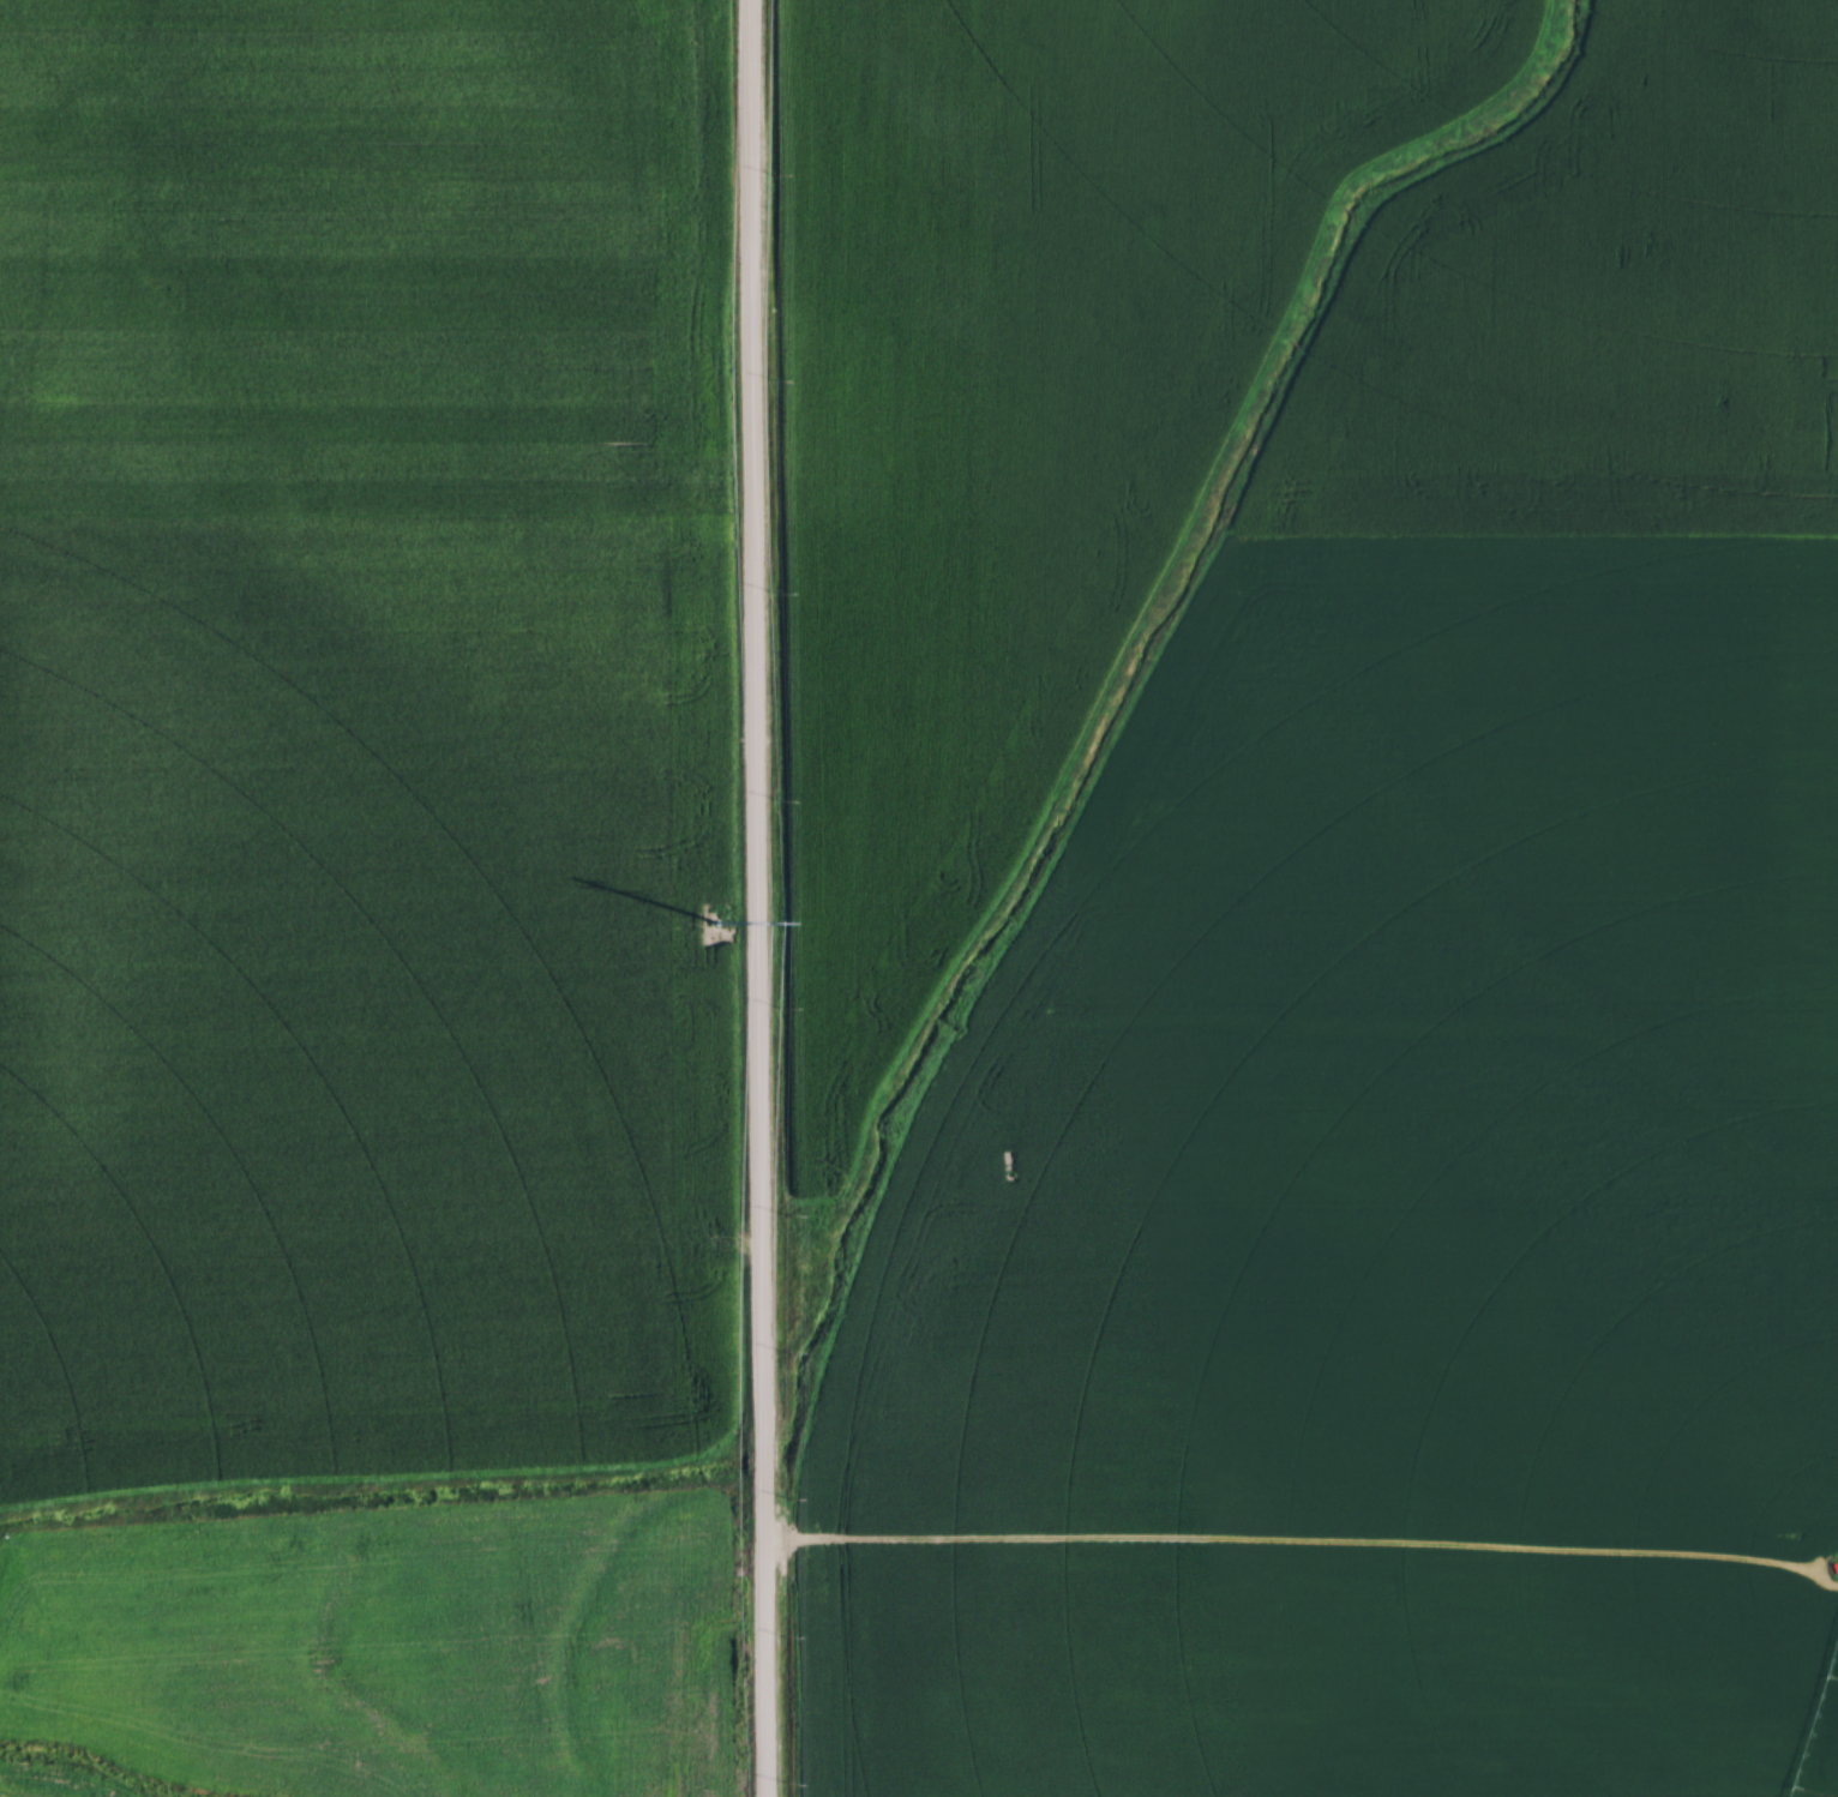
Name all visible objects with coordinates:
road: (761, 897)
power tower: (716, 921)

